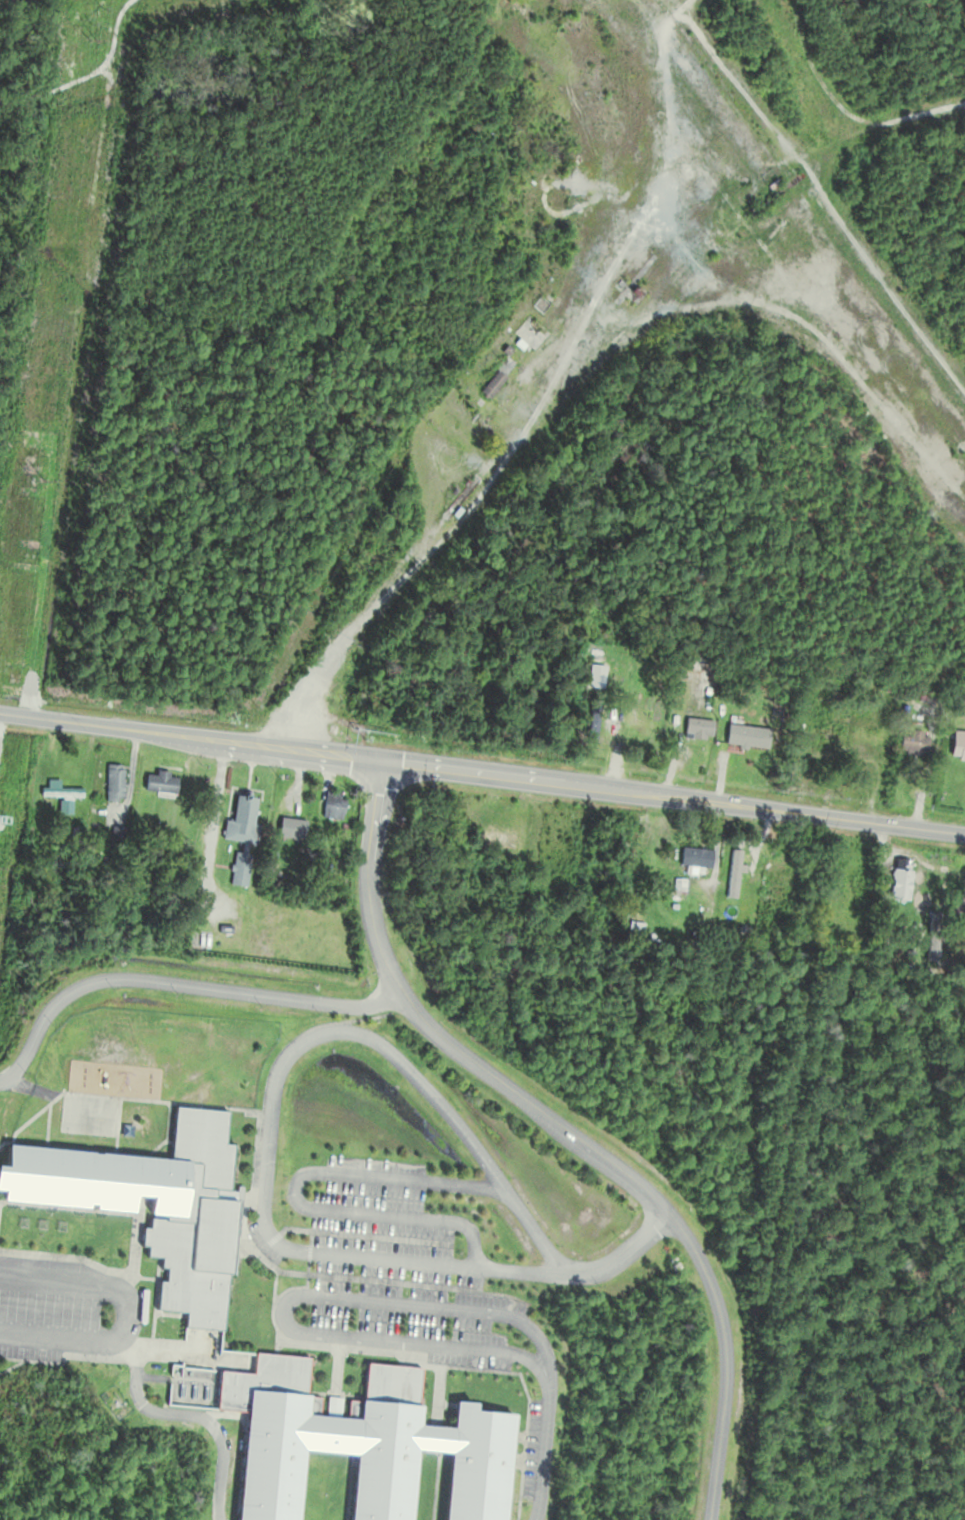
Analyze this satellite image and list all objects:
power tower: (84, 22)
power tower: (95, 41)
railway: (812, 203)
building: (491, 386)
road: (473, 500)
power tower: (30, 558)
building: (697, 729)
building: (823, 733)
building: (867, 737)
building: (638, 741)
building: (913, 744)
building: (958, 746)
traffic signals: (386, 761)
road: (482, 773)
building: (114, 784)
building: (159, 784)
building: (58, 796)
power tower: (1, 806)
building: (333, 808)
building: (290, 830)
building: (240, 837)
building: (497, 840)
building: (695, 858)
road: (368, 868)
building: (900, 880)
building: (635, 921)
road: (181, 983)
road: (274, 1093)
road: (523, 1098)
road: (619, 1257)
building: (192, 1275)
road: (288, 1299)
road: (126, 1313)
road: (724, 1358)
road: (188, 1414)
road: (545, 1445)

